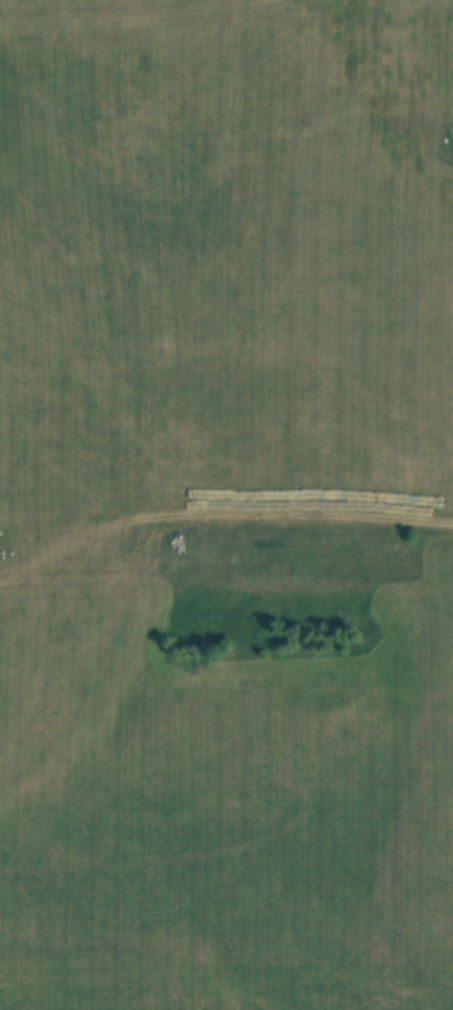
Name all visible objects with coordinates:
road: (225, 511)

